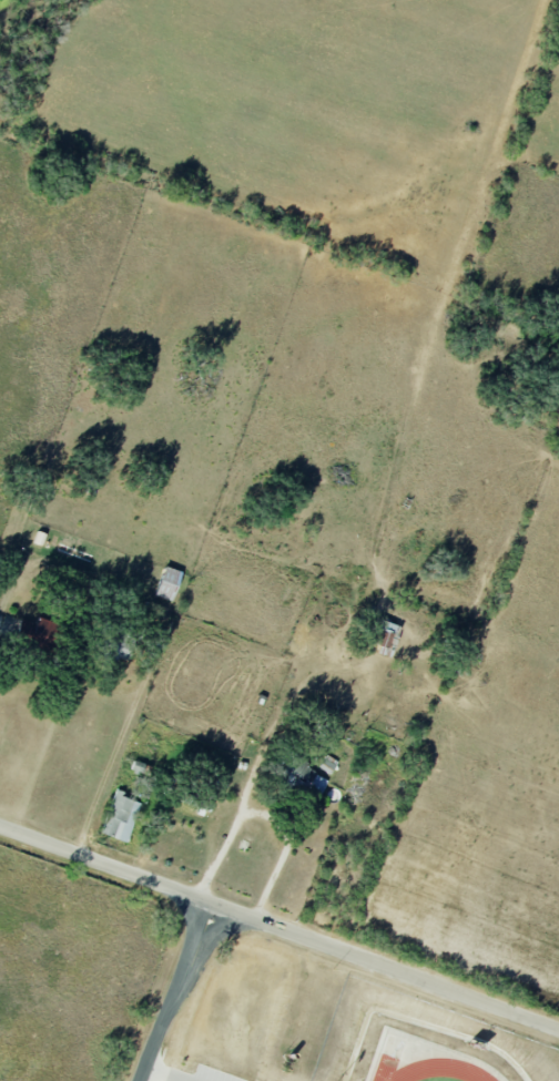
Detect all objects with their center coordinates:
building: (169, 583)
building: (387, 639)
building: (119, 644)
road: (274, 712)
road: (103, 773)
building: (306, 779)
building: (121, 817)
road: (268, 817)
road: (103, 860)
road: (383, 962)
road: (174, 988)
road: (162, 1074)

